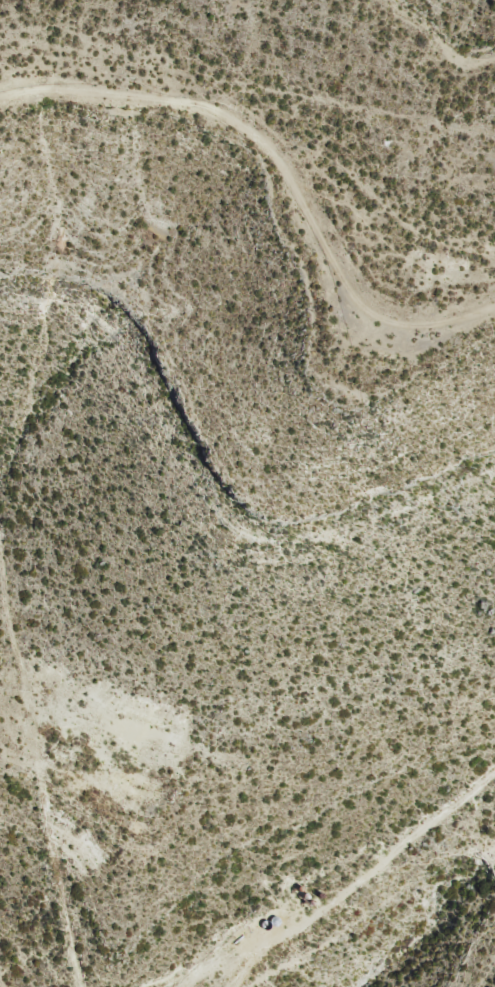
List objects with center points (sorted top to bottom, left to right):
road: (288, 186)
road: (364, 918)

